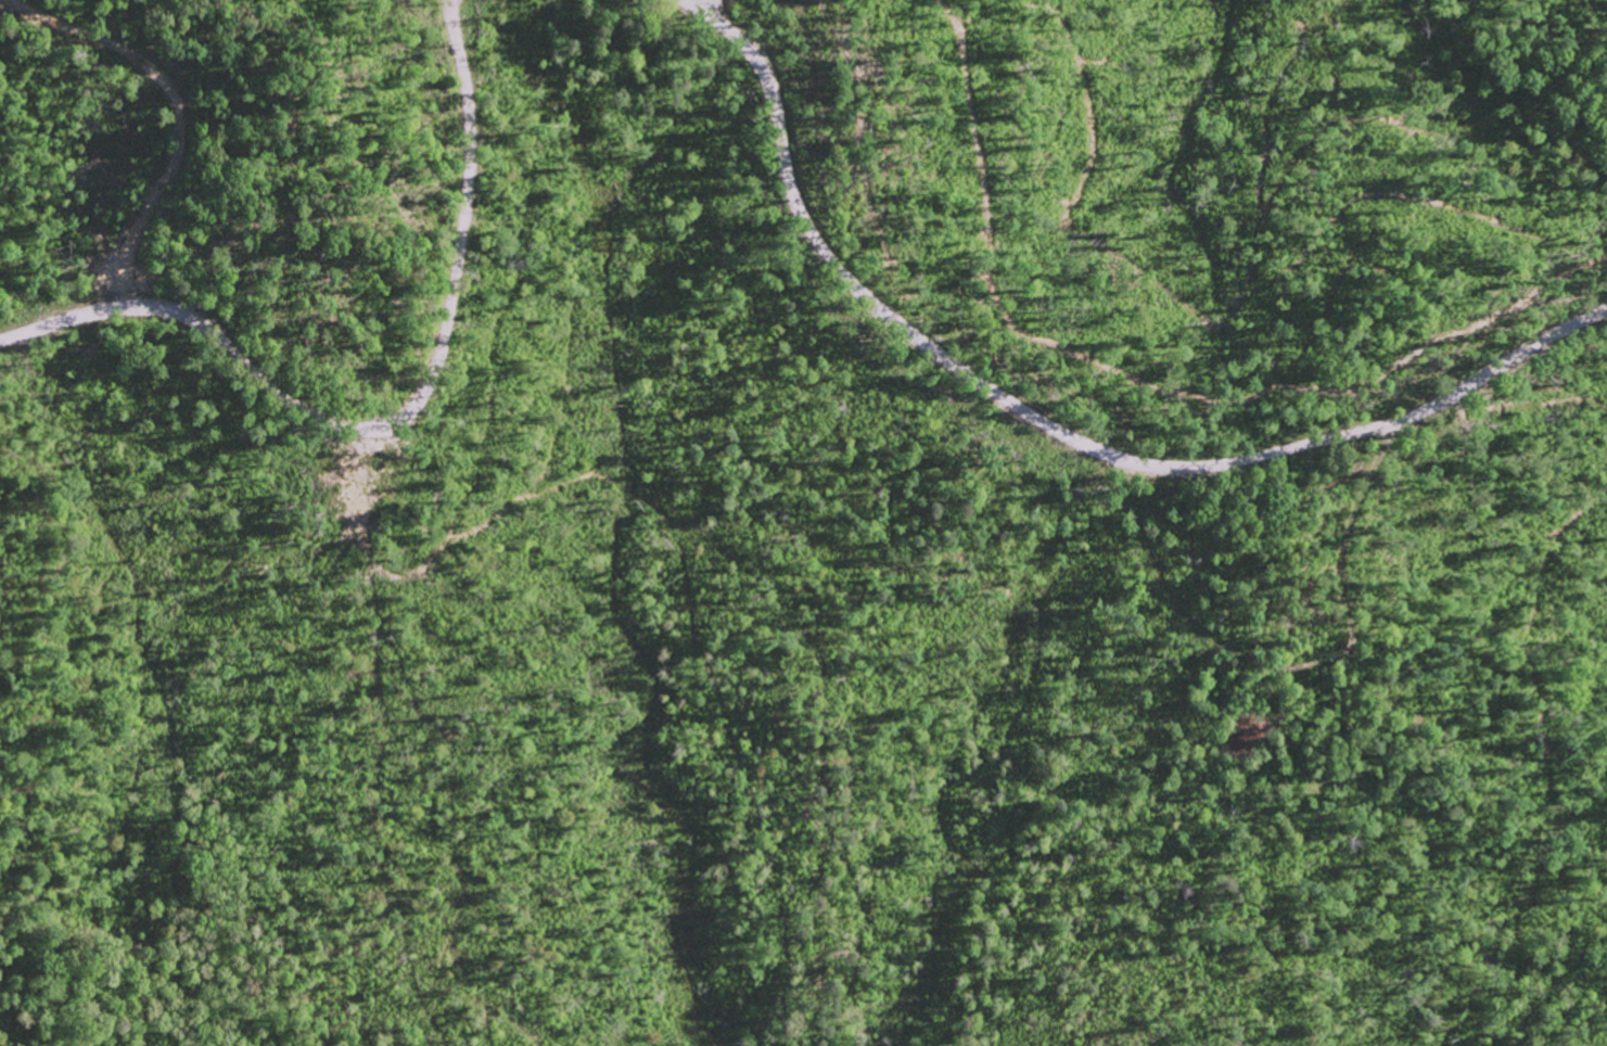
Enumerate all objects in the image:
road: (177, 114)
road: (395, 418)
road: (1056, 428)
road: (1178, 678)

